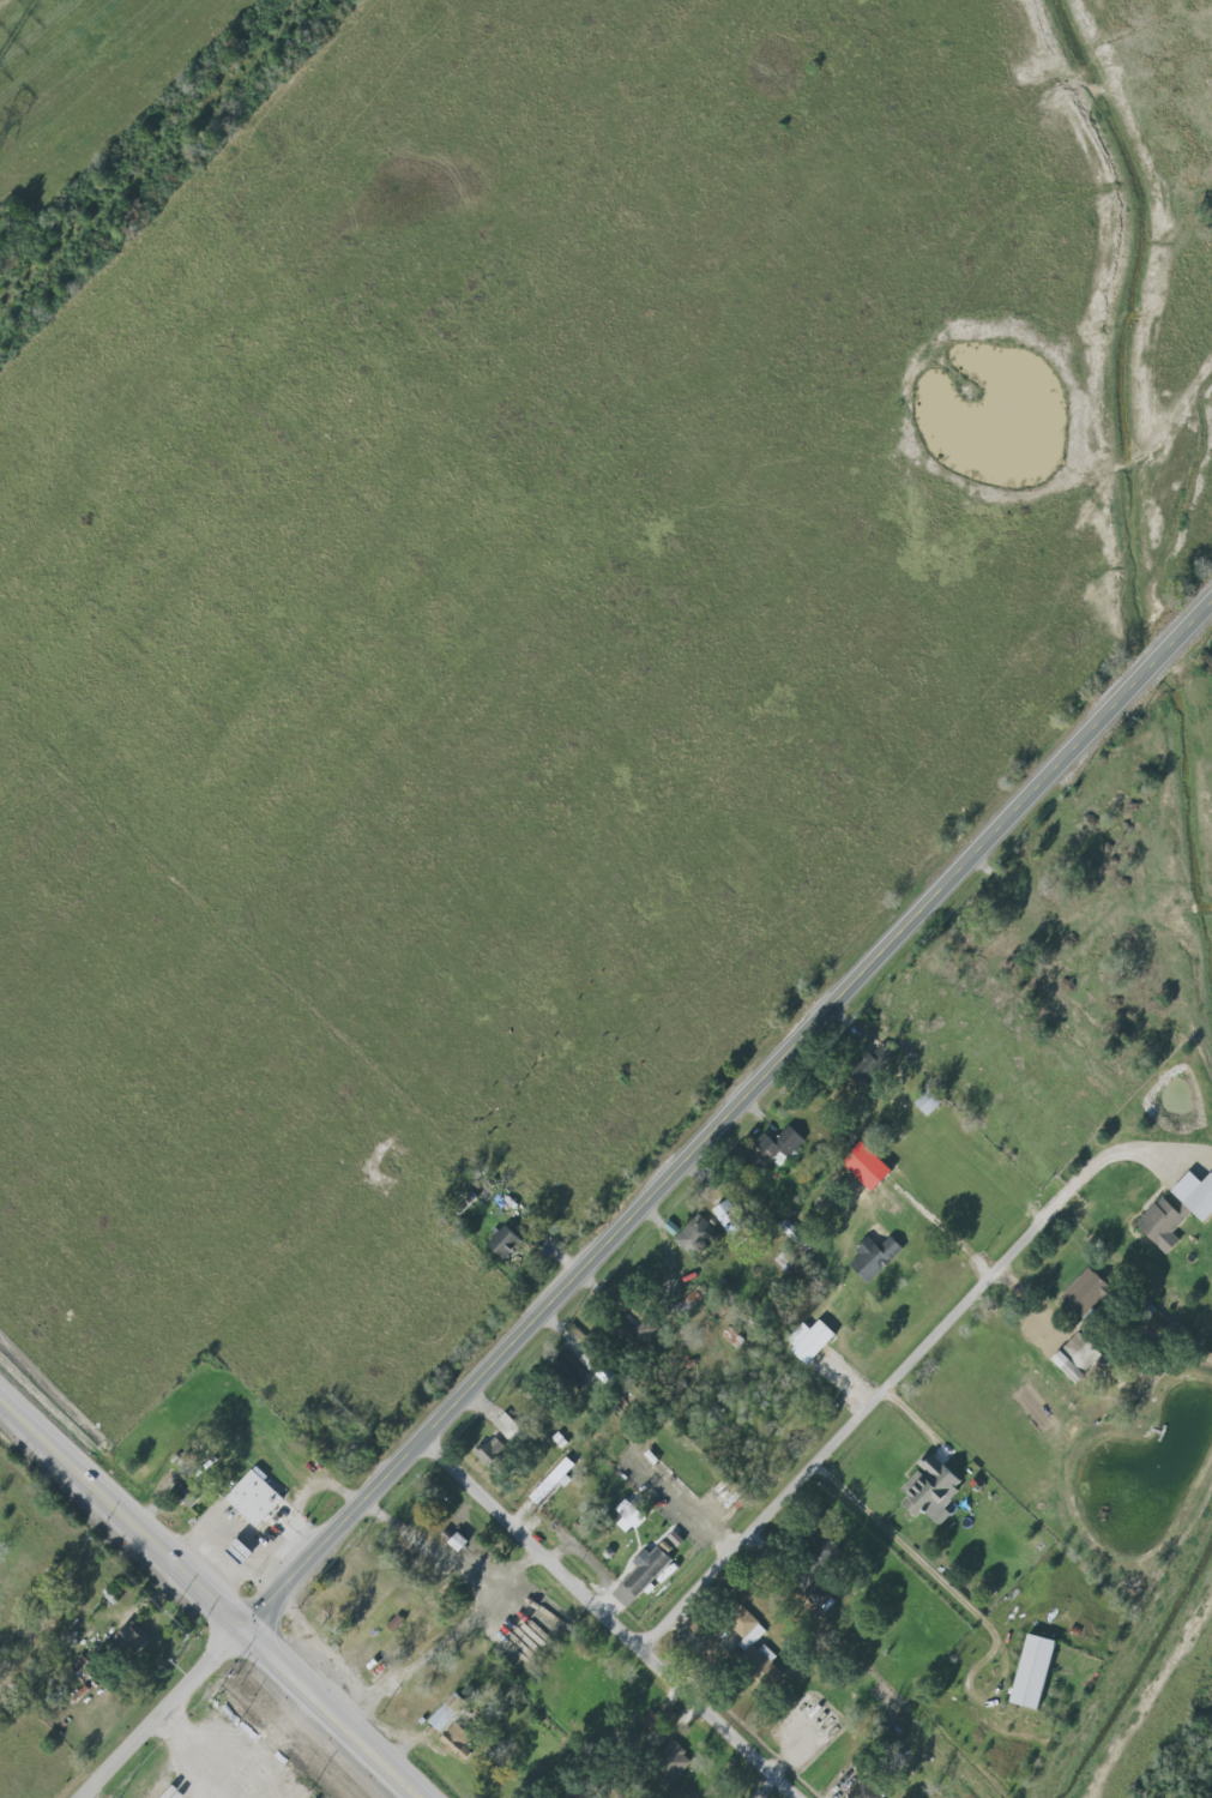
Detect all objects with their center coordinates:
railway: (145, 140)
building: (873, 1065)
building: (930, 1102)
road: (731, 1119)
building: (777, 1144)
road: (1102, 1157)
building: (1196, 1195)
building: (730, 1219)
building: (1165, 1222)
building: (697, 1235)
building: (507, 1241)
building: (875, 1257)
building: (1086, 1293)
building: (650, 1331)
building: (812, 1340)
building: (1078, 1357)
building: (509, 1429)
road: (850, 1429)
building: (492, 1451)
building: (554, 1483)
building: (931, 1486)
building: (189, 1490)
building: (257, 1497)
building: (631, 1516)
road: (536, 1540)
building: (826, 1547)
road: (912, 1550)
road: (458, 1558)
building: (644, 1575)
building: (819, 1587)
road: (216, 1594)
building: (134, 1637)
building: (753, 1643)
road: (424, 1655)
building: (1036, 1672)
road: (164, 1710)
building: (442, 1715)
building: (652, 1720)
road: (725, 1720)
building: (458, 1740)
road: (206, 1756)
building: (674, 1761)
building: (866, 1791)

